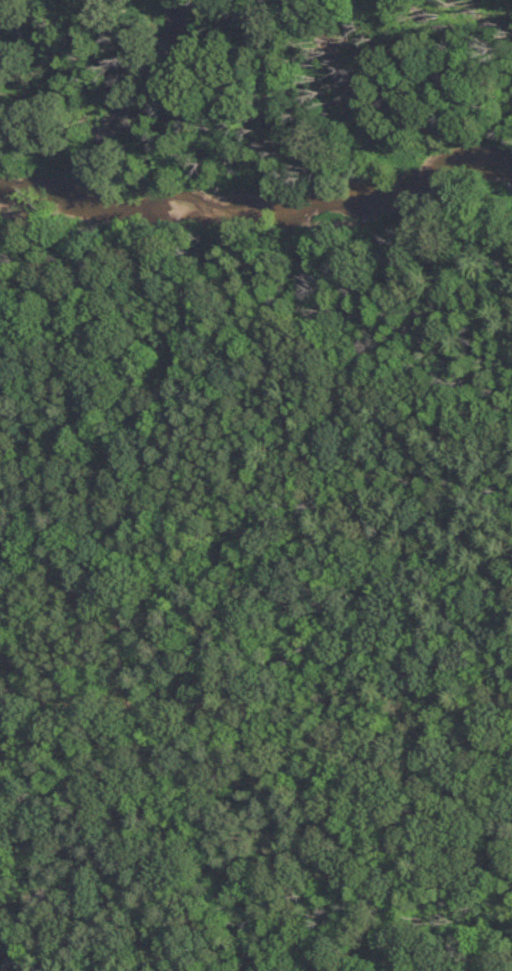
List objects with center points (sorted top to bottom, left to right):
river: (259, 202)

